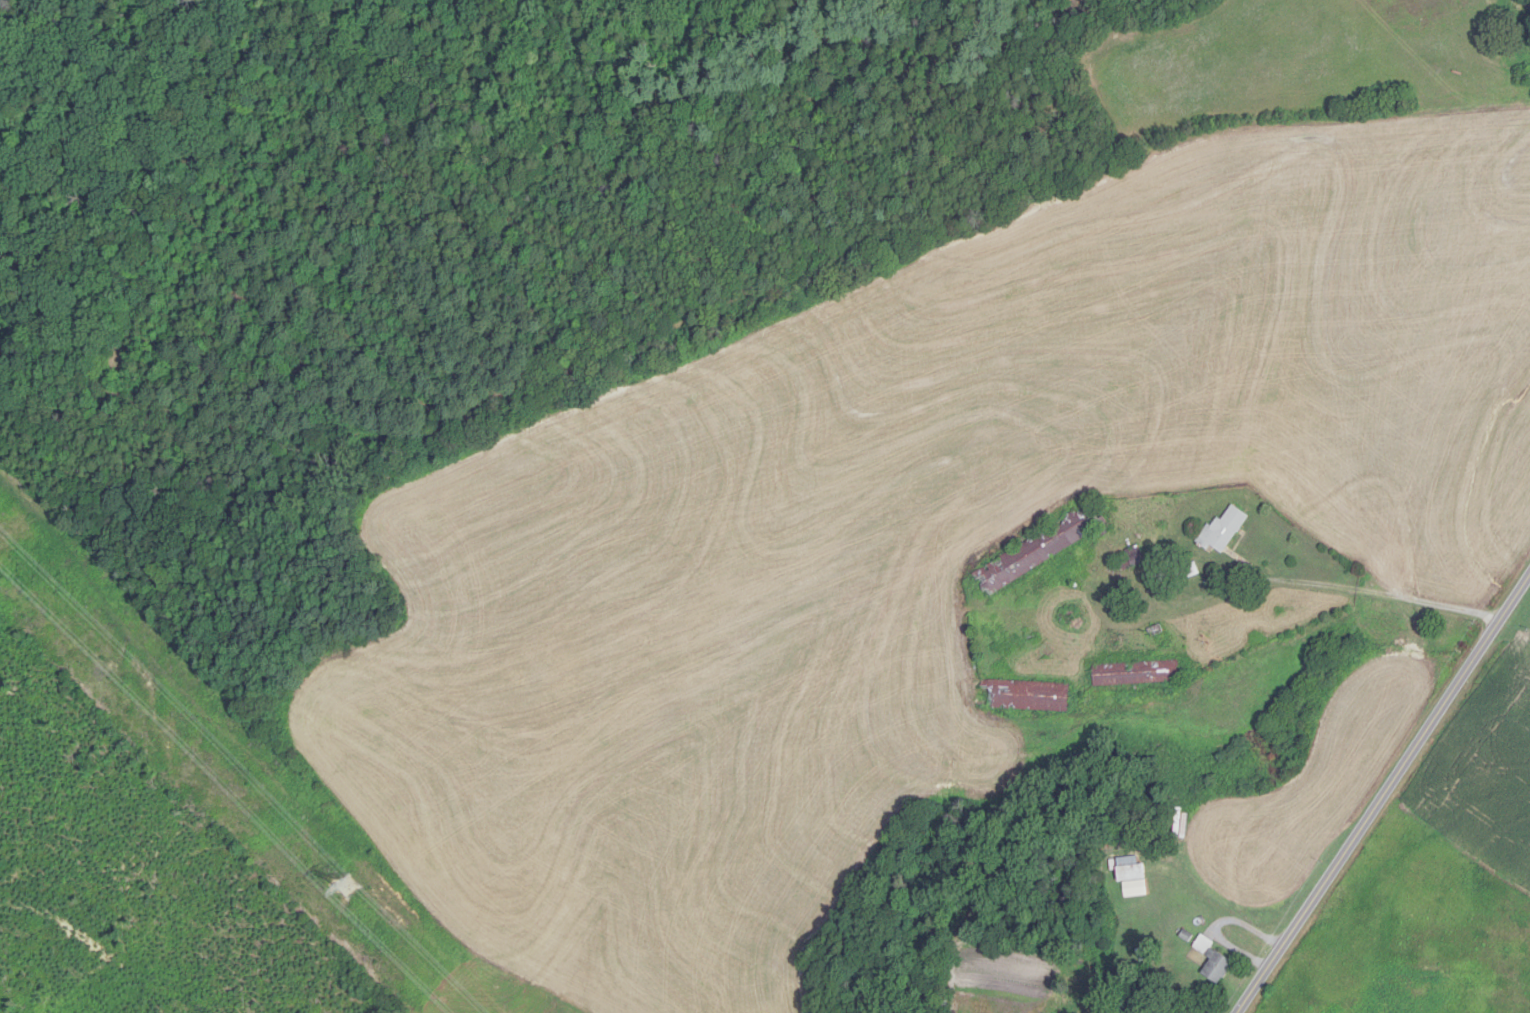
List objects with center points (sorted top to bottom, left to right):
building: (1524, 77)
building: (1224, 530)
building: (1038, 551)
road: (1367, 592)
building: (1136, 674)
building: (1025, 696)
road: (1383, 795)
building: (1130, 870)
power tower: (360, 898)
building: (1213, 962)

